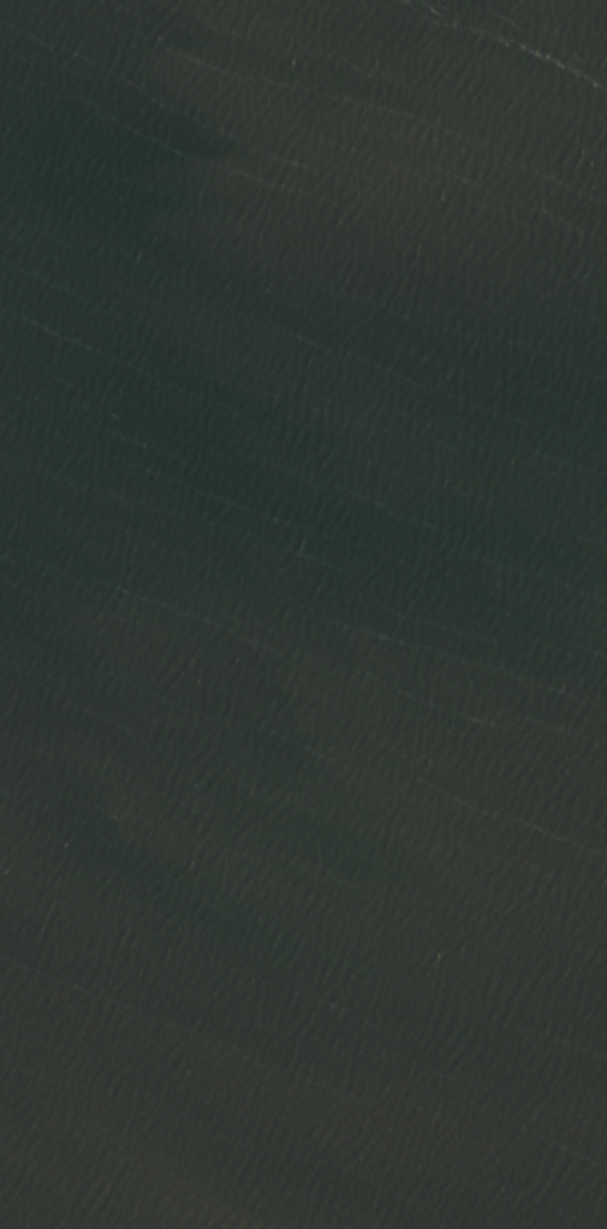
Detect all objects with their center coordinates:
river: (249, 242)
river: (290, 610)

